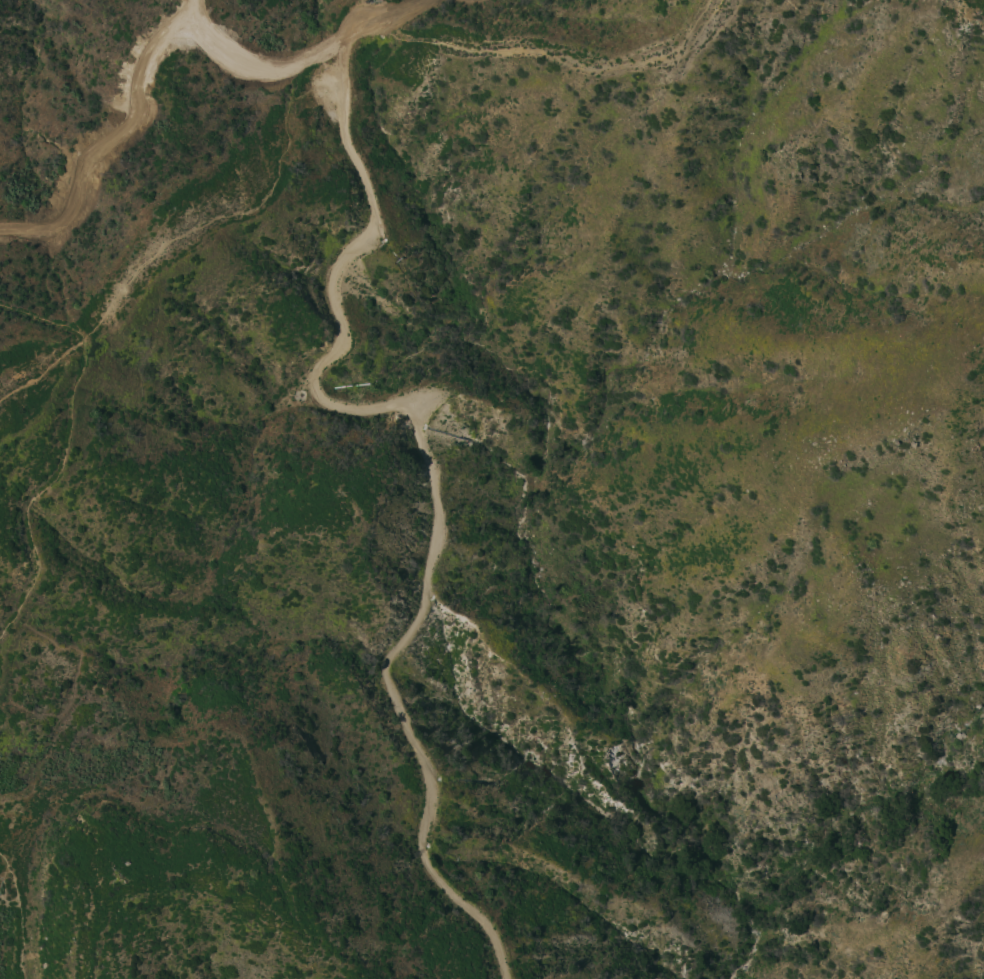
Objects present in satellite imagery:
road: (383, 16)
road: (358, 23)
road: (142, 61)
road: (67, 445)
road: (430, 462)
road: (22, 911)

